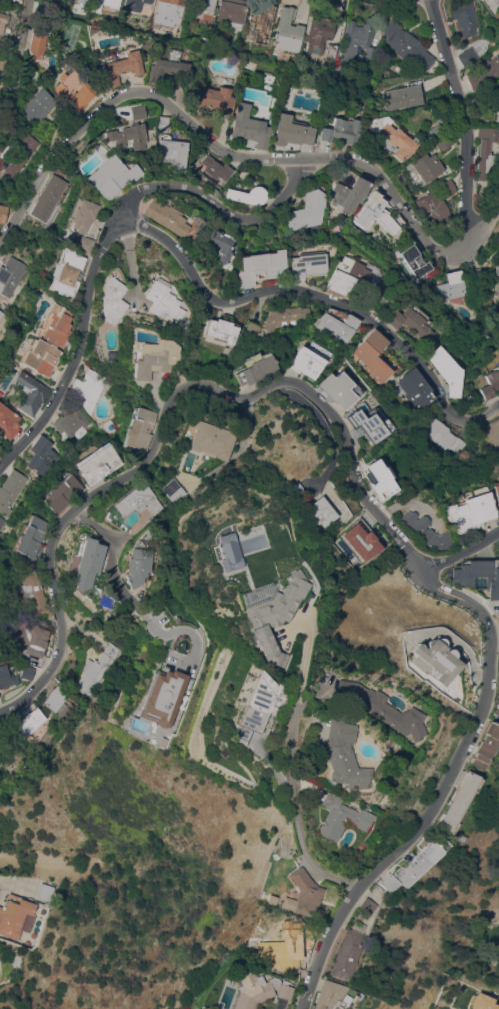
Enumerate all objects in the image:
building: (81, 1)
building: (492, 2)
building: (108, 3)
building: (135, 4)
building: (43, 8)
building: (203, 11)
building: (168, 12)
building: (231, 12)
building: (465, 18)
building: (2, 23)
building: (262, 23)
building: (288, 30)
road: (23, 34)
building: (318, 34)
building: (358, 42)
building: (37, 43)
building: (406, 44)
building: (332, 50)
building: (467, 56)
building: (119, 67)
building: (168, 67)
building: (483, 72)
building: (2, 74)
building: (75, 90)
building: (403, 96)
building: (214, 99)
building: (39, 106)
building: (137, 112)
building: (498, 116)
building: (162, 122)
road: (462, 123)
building: (250, 126)
building: (291, 131)
building: (341, 131)
building: (436, 131)
building: (128, 136)
building: (393, 136)
building: (444, 143)
road: (229, 152)
building: (487, 152)
building: (172, 153)
building: (18, 158)
building: (427, 166)
building: (216, 168)
building: (112, 176)
building: (1, 192)
building: (348, 193)
building: (248, 195)
building: (47, 197)
building: (436, 203)
road: (221, 210)
building: (307, 210)
building: (2, 212)
building: (376, 213)
building: (83, 215)
building: (171, 216)
building: (84, 244)
building: (222, 244)
building: (414, 259)
building: (306, 264)
building: (262, 266)
building: (497, 268)
building: (66, 272)
building: (474, 273)
building: (10, 275)
building: (346, 275)
building: (451, 286)
building: (497, 290)
road: (322, 295)
building: (369, 298)
building: (163, 299)
building: (112, 300)
building: (1, 314)
building: (285, 316)
building: (411, 320)
building: (0, 322)
building: (184, 326)
building: (337, 326)
building: (222, 329)
building: (251, 330)
building: (48, 342)
road: (76, 347)
building: (372, 355)
building: (155, 358)
building: (308, 360)
building: (256, 368)
building: (446, 369)
building: (491, 383)
building: (89, 387)
building: (339, 388)
building: (414, 388)
building: (29, 392)
road: (166, 413)
building: (71, 420)
building: (8, 421)
building: (370, 423)
building: (138, 428)
building: (442, 436)
building: (210, 440)
building: (41, 454)
building: (97, 463)
building: (380, 477)
building: (169, 487)
building: (10, 490)
building: (496, 491)
building: (60, 493)
building: (136, 500)
building: (469, 509)
building: (318, 512)
building: (1, 521)
building: (427, 530)
building: (28, 536)
building: (361, 539)
road: (111, 543)
building: (222, 552)
road: (459, 552)
building: (136, 563)
building: (88, 564)
building: (479, 575)
building: (30, 592)
building: (105, 601)
building: (271, 615)
building: (20, 634)
road: (494, 643)
building: (38, 646)
road: (295, 658)
building: (436, 659)
building: (98, 668)
building: (27, 672)
building: (8, 676)
building: (161, 696)
building: (57, 698)
building: (256, 705)
building: (379, 708)
building: (29, 719)
building: (487, 743)
building: (340, 753)
road: (439, 787)
building: (458, 801)
road: (293, 813)
building: (339, 817)
building: (411, 866)
road: (0, 880)
building: (45, 891)
building: (306, 894)
building: (271, 900)
building: (366, 905)
building: (16, 916)
building: (346, 953)
building: (291, 961)
building: (253, 989)
building: (285, 991)
building: (331, 995)
building: (482, 1002)

